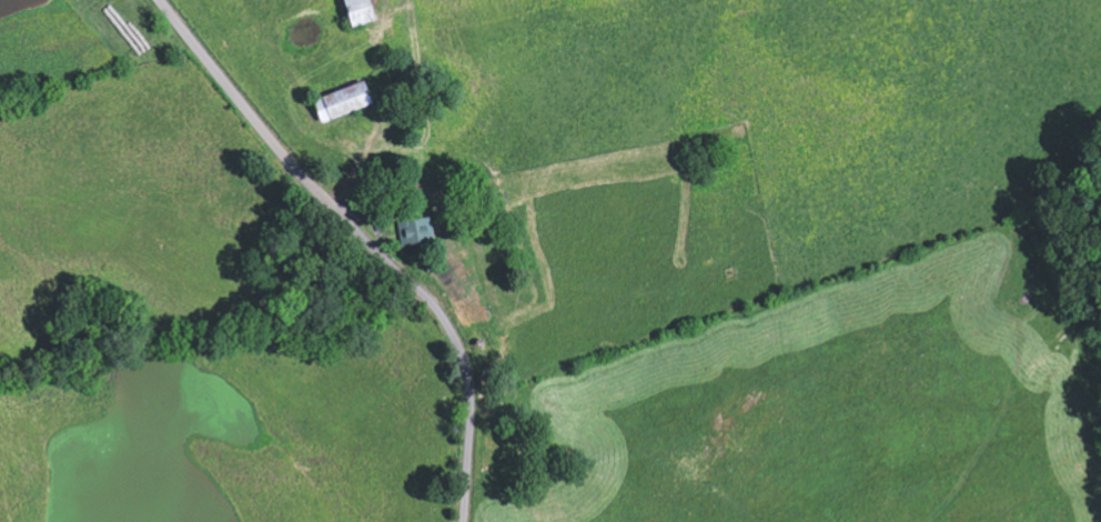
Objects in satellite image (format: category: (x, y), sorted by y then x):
building: (346, 100)
building: (417, 230)
road: (363, 241)

